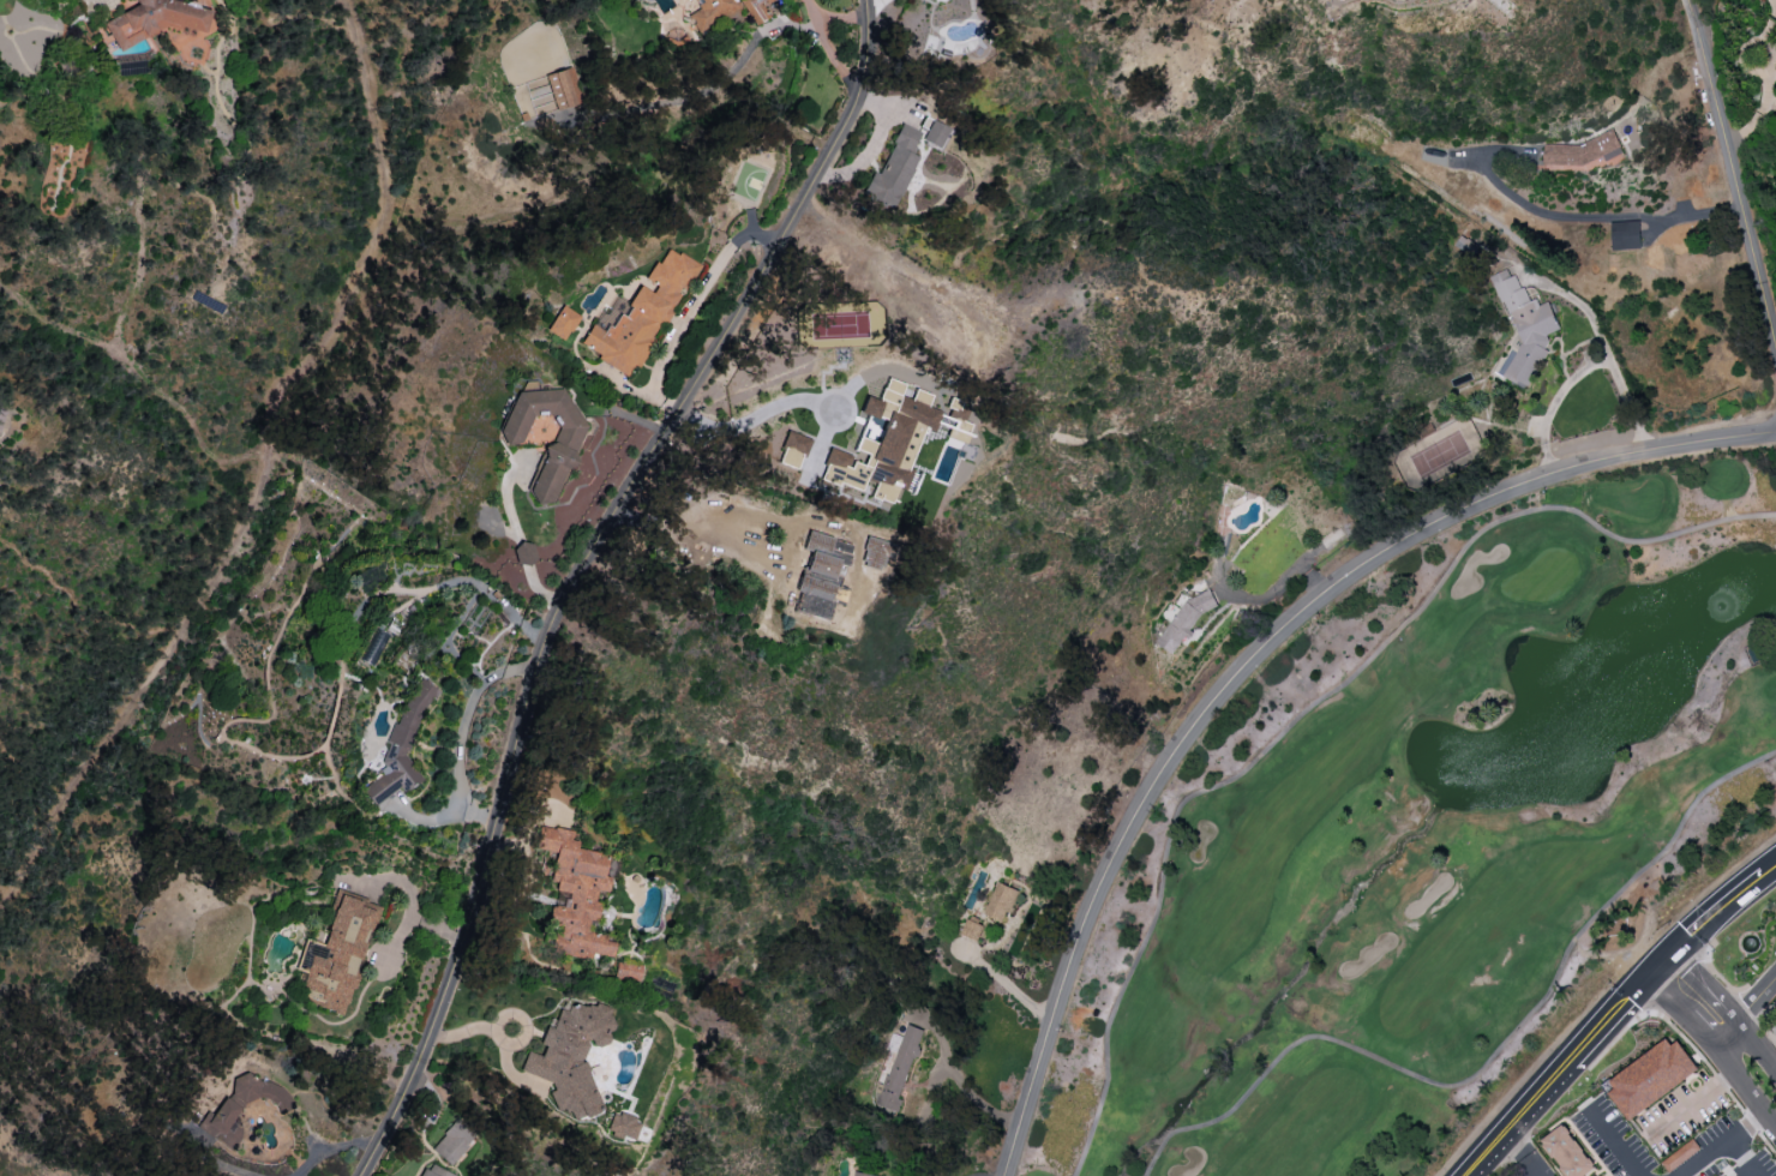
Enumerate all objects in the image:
building: (756, 8)
building: (710, 12)
building: (154, 19)
building: (563, 88)
building: (934, 133)
building: (1584, 154)
building: (893, 169)
road: (1733, 172)
road: (1579, 216)
building: (1626, 234)
building: (640, 314)
building: (562, 322)
road: (679, 322)
building: (1524, 329)
road: (1606, 349)
road: (1552, 403)
road: (840, 407)
building: (955, 427)
building: (883, 439)
building: (796, 442)
building: (559, 449)
road: (262, 476)
road: (516, 532)
building: (523, 553)
road: (568, 564)
building: (821, 575)
road: (1250, 656)
road: (460, 738)
building: (400, 746)
park: (1428, 834)
road: (1769, 871)
building: (575, 893)
building: (1001, 901)
road: (415, 905)
road: (1711, 918)
building: (972, 929)
building: (336, 953)
road: (1703, 986)
road: (1756, 1002)
road: (1678, 1008)
road: (1726, 1036)
road: (498, 1037)
road: (1756, 1049)
building: (571, 1055)
building: (899, 1066)
road: (1564, 1068)
building: (1651, 1078)
road: (961, 1085)
road: (1746, 1087)
building: (278, 1104)
building: (620, 1126)
building: (452, 1142)
road: (1614, 1144)
road: (1720, 1146)
road: (332, 1148)
building: (1568, 1152)
building: (1681, 1154)
road: (218, 1164)
building: (431, 1170)
road: (1747, 1171)
building: (862, 1174)
building: (1601, 1175)

